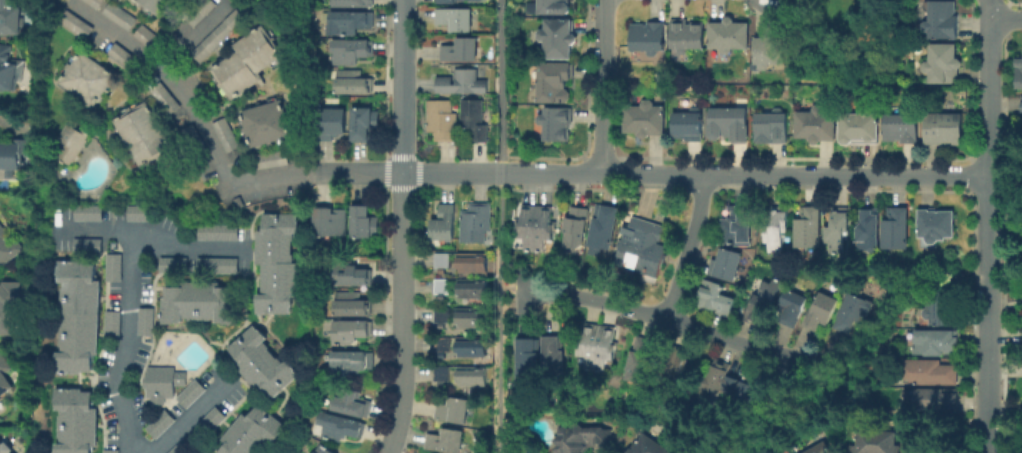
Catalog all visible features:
building: (91, 2)
building: (452, 2)
building: (353, 4)
building: (153, 6)
building: (551, 8)
road: (1005, 16)
building: (10, 19)
building: (456, 20)
building: (944, 21)
building: (350, 24)
road: (193, 32)
building: (214, 33)
building: (688, 36)
building: (730, 36)
building: (649, 38)
building: (558, 40)
building: (352, 52)
building: (461, 52)
building: (770, 52)
building: (243, 62)
building: (945, 65)
building: (1019, 69)
building: (10, 70)
road: (172, 76)
building: (86, 78)
road: (503, 81)
building: (462, 83)
building: (556, 83)
building: (354, 84)
road: (601, 86)
building: (1021, 103)
building: (475, 120)
building: (443, 121)
building: (647, 121)
building: (263, 122)
building: (331, 124)
building: (557, 124)
building: (365, 125)
building: (731, 125)
building: (690, 126)
building: (818, 126)
building: (773, 128)
building: (862, 128)
building: (903, 129)
building: (945, 130)
building: (222, 132)
building: (142, 134)
building: (14, 155)
building: (268, 157)
road: (366, 172)
road: (502, 174)
road: (744, 174)
building: (90, 212)
building: (142, 213)
building: (331, 220)
building: (365, 221)
building: (446, 222)
building: (476, 222)
building: (938, 224)
building: (537, 226)
building: (605, 226)
building: (738, 226)
road: (987, 226)
road: (403, 227)
building: (810, 227)
building: (898, 227)
building: (577, 229)
building: (778, 229)
building: (870, 230)
building: (839, 231)
building: (219, 232)
road: (156, 242)
building: (88, 245)
building: (8, 246)
building: (643, 247)
road: (692, 247)
building: (443, 261)
building: (474, 262)
building: (279, 263)
building: (728, 264)
building: (175, 265)
building: (219, 265)
building: (115, 267)
building: (352, 274)
building: (443, 287)
building: (474, 288)
road: (508, 290)
building: (717, 298)
building: (202, 302)
building: (764, 302)
building: (353, 304)
road: (1005, 304)
building: (10, 306)
building: (793, 307)
building: (945, 308)
building: (822, 311)
building: (854, 312)
building: (442, 316)
building: (80, 317)
building: (472, 317)
road: (673, 317)
road: (499, 319)
building: (147, 321)
building: (114, 323)
building: (351, 332)
building: (938, 342)
road: (128, 344)
building: (443, 346)
building: (473, 346)
building: (598, 346)
building: (555, 357)
building: (529, 358)
building: (641, 360)
building: (264, 362)
building: (351, 362)
building: (672, 369)
building: (931, 372)
building: (5, 375)
building: (442, 375)
building: (473, 375)
building: (730, 382)
building: (161, 383)
building: (472, 390)
building: (193, 393)
building: (935, 398)
building: (352, 402)
road: (1005, 407)
building: (454, 410)
road: (190, 418)
building: (524, 418)
building: (213, 420)
building: (78, 421)
building: (162, 423)
building: (341, 426)
building: (254, 432)
building: (583, 438)
building: (447, 440)
building: (879, 441)
building: (650, 446)
building: (6, 447)
building: (184, 447)
building: (822, 448)
building: (324, 449)
building: (112, 451)

